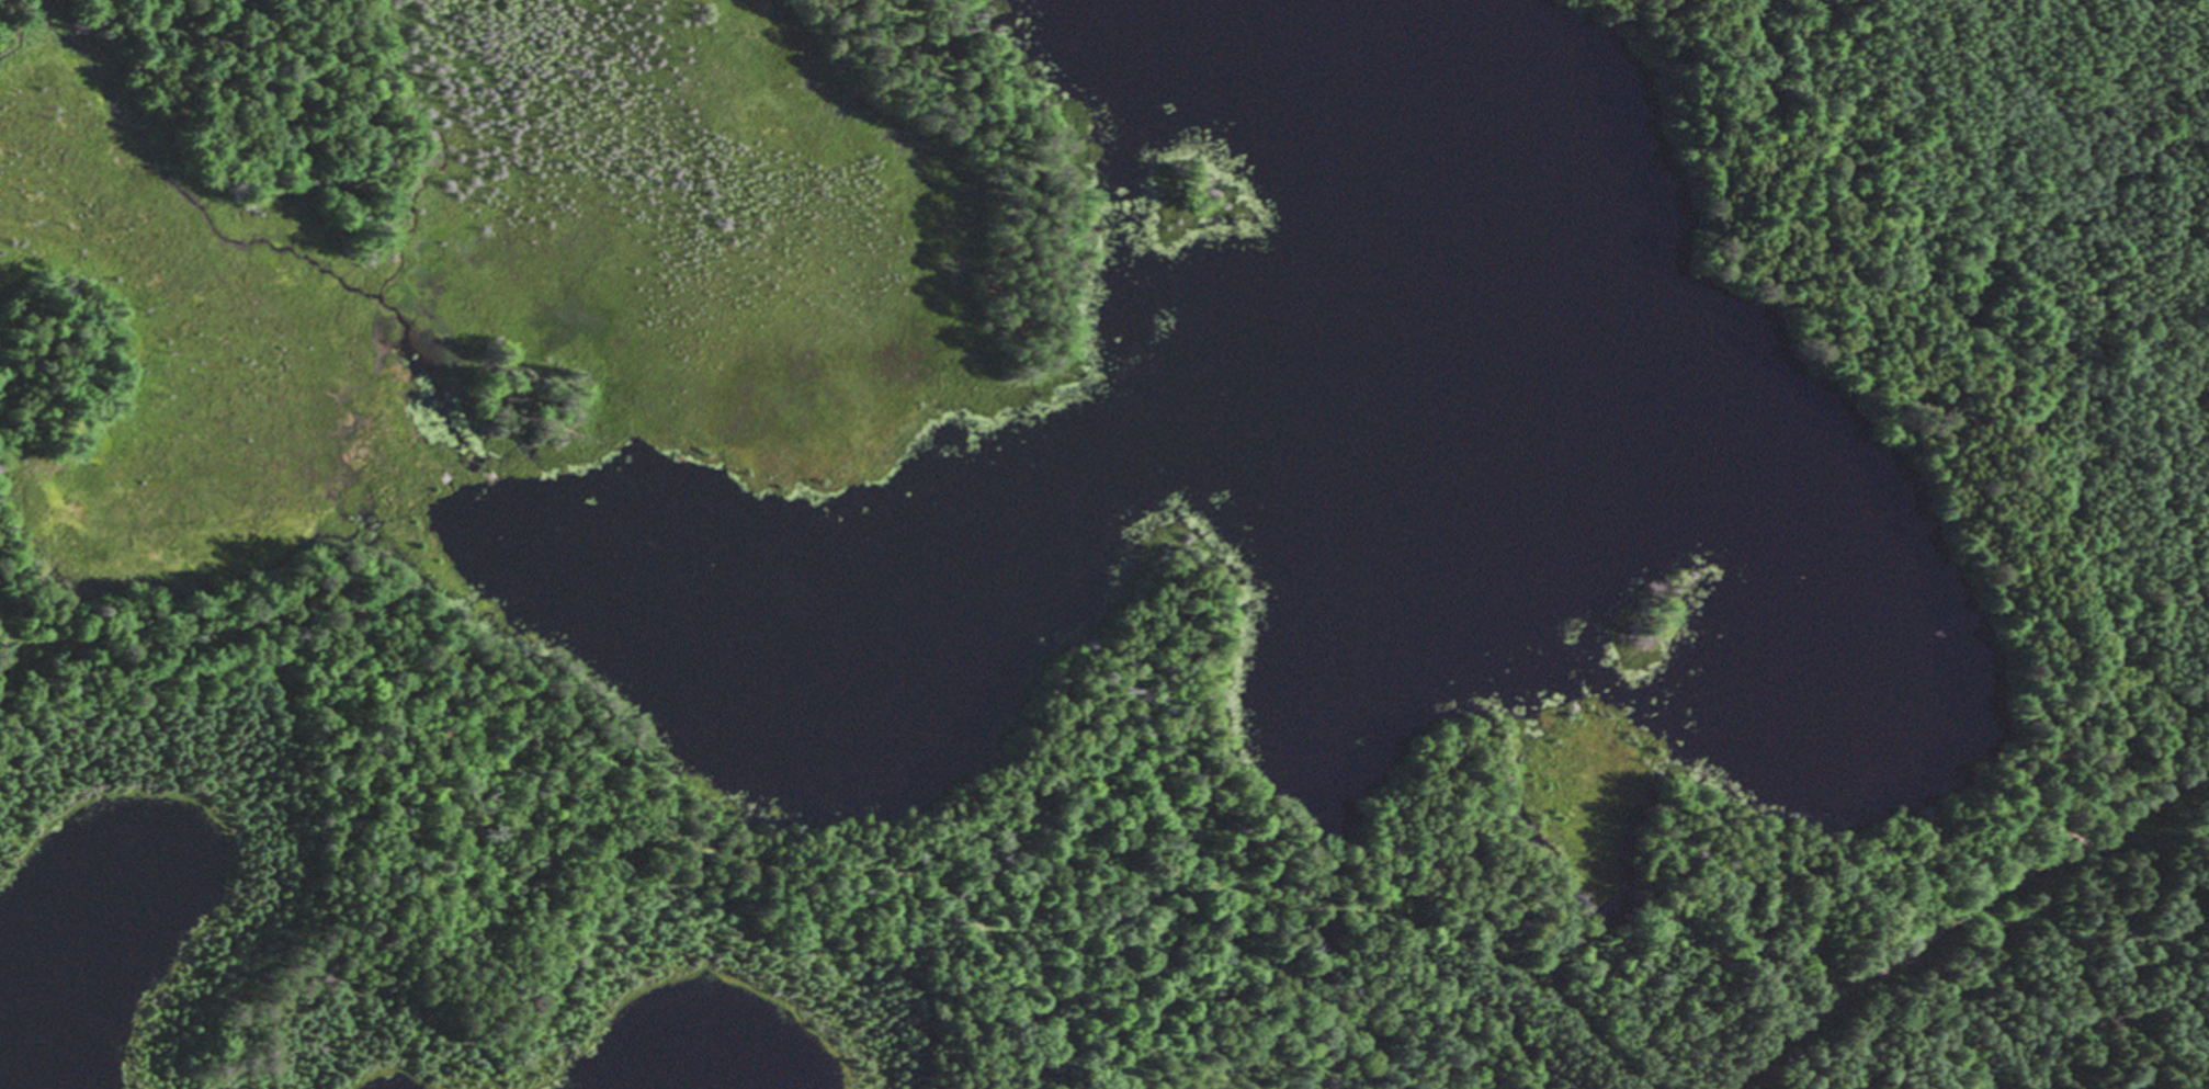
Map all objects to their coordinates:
road: (1971, 916)

